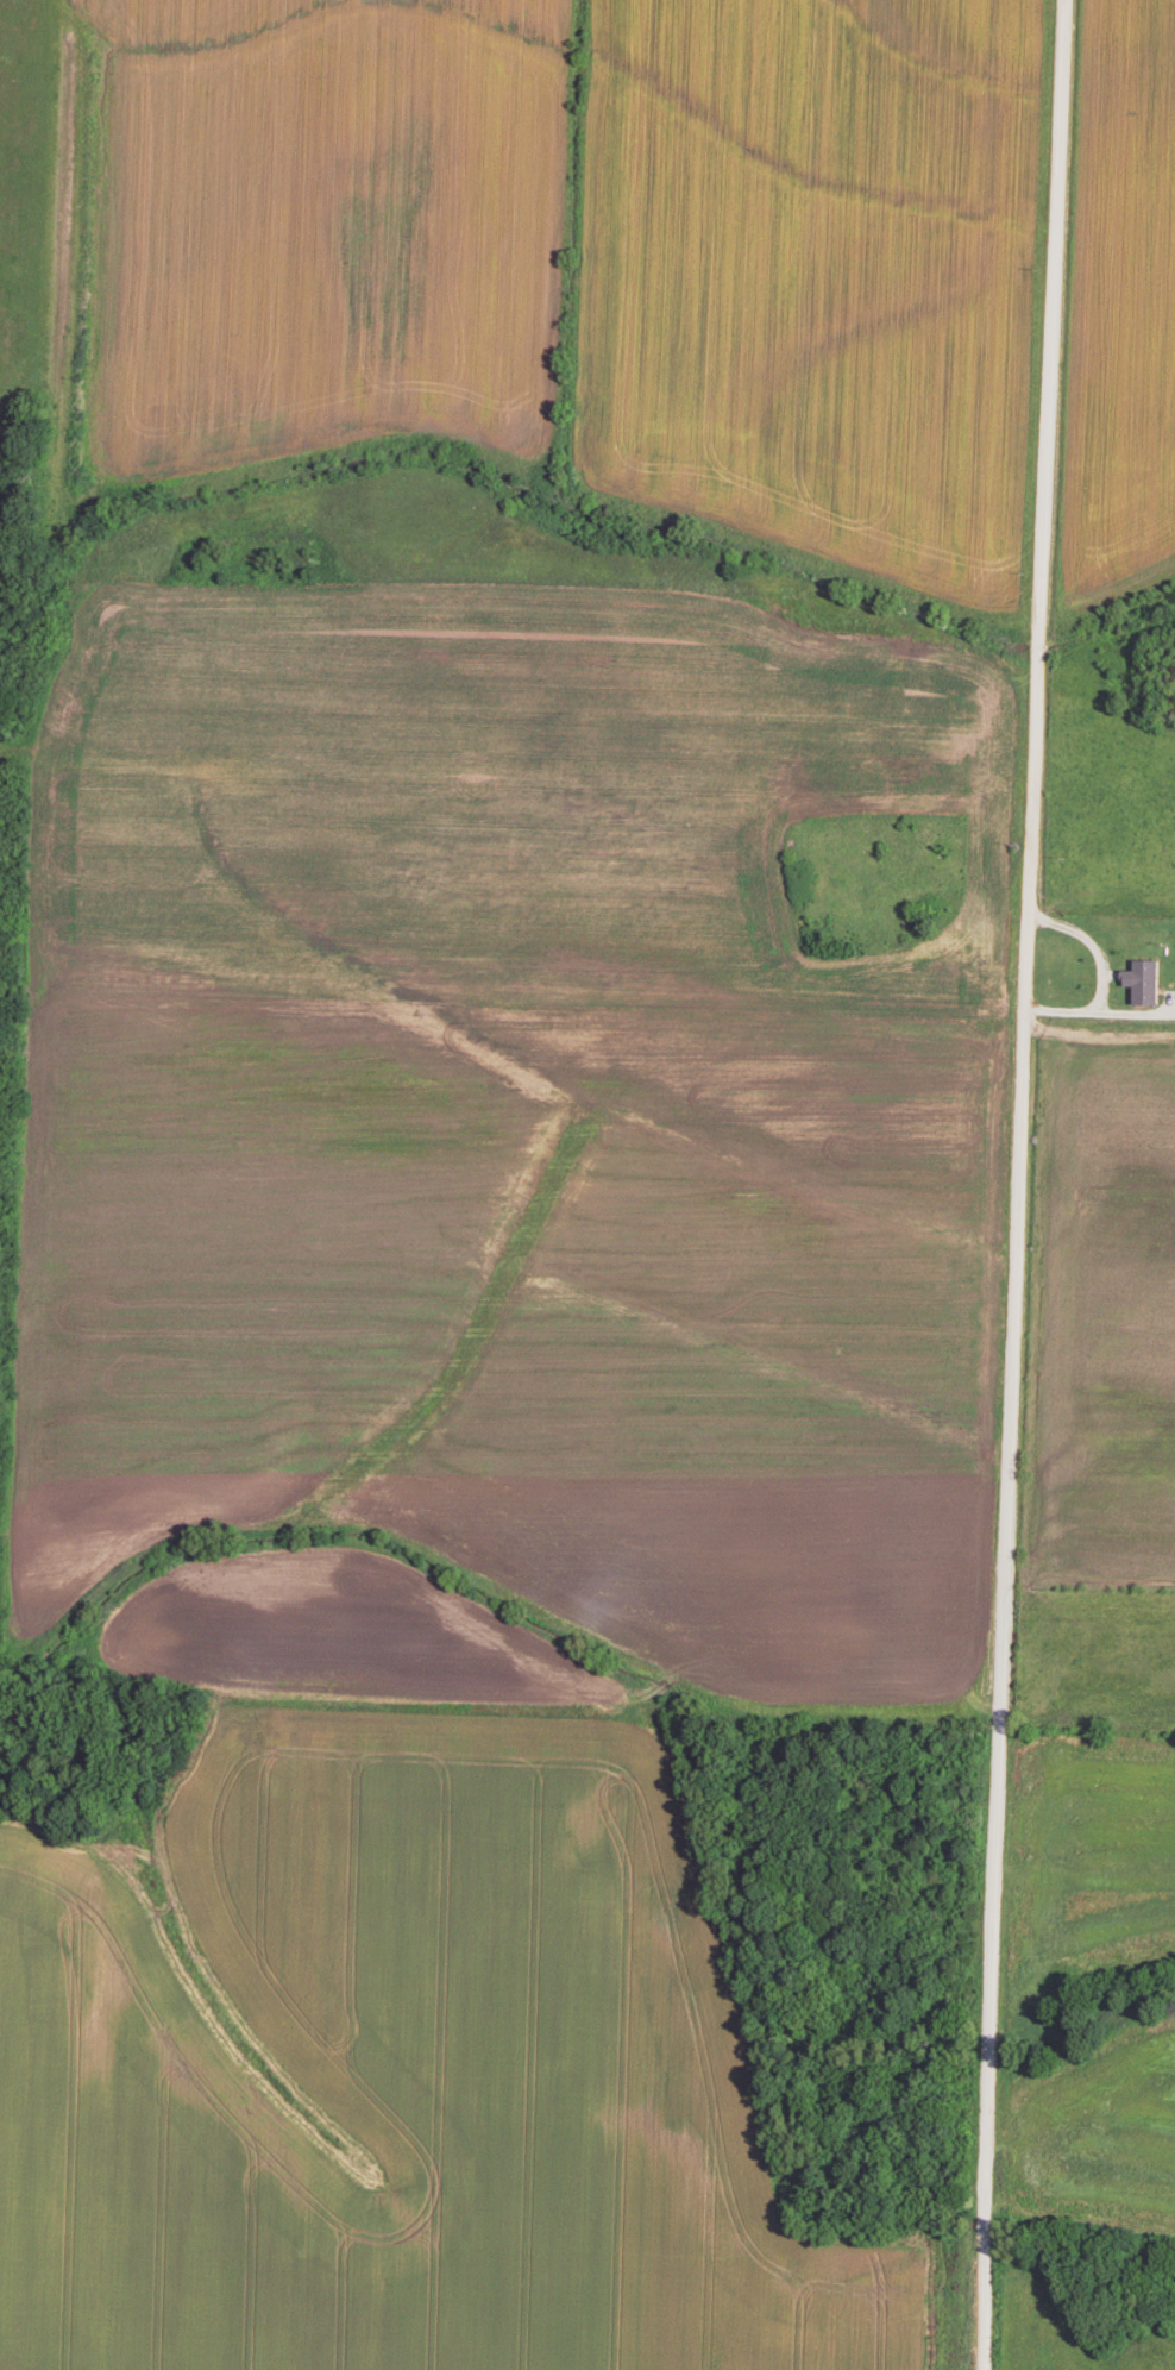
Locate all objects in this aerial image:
road: (1025, 1184)

